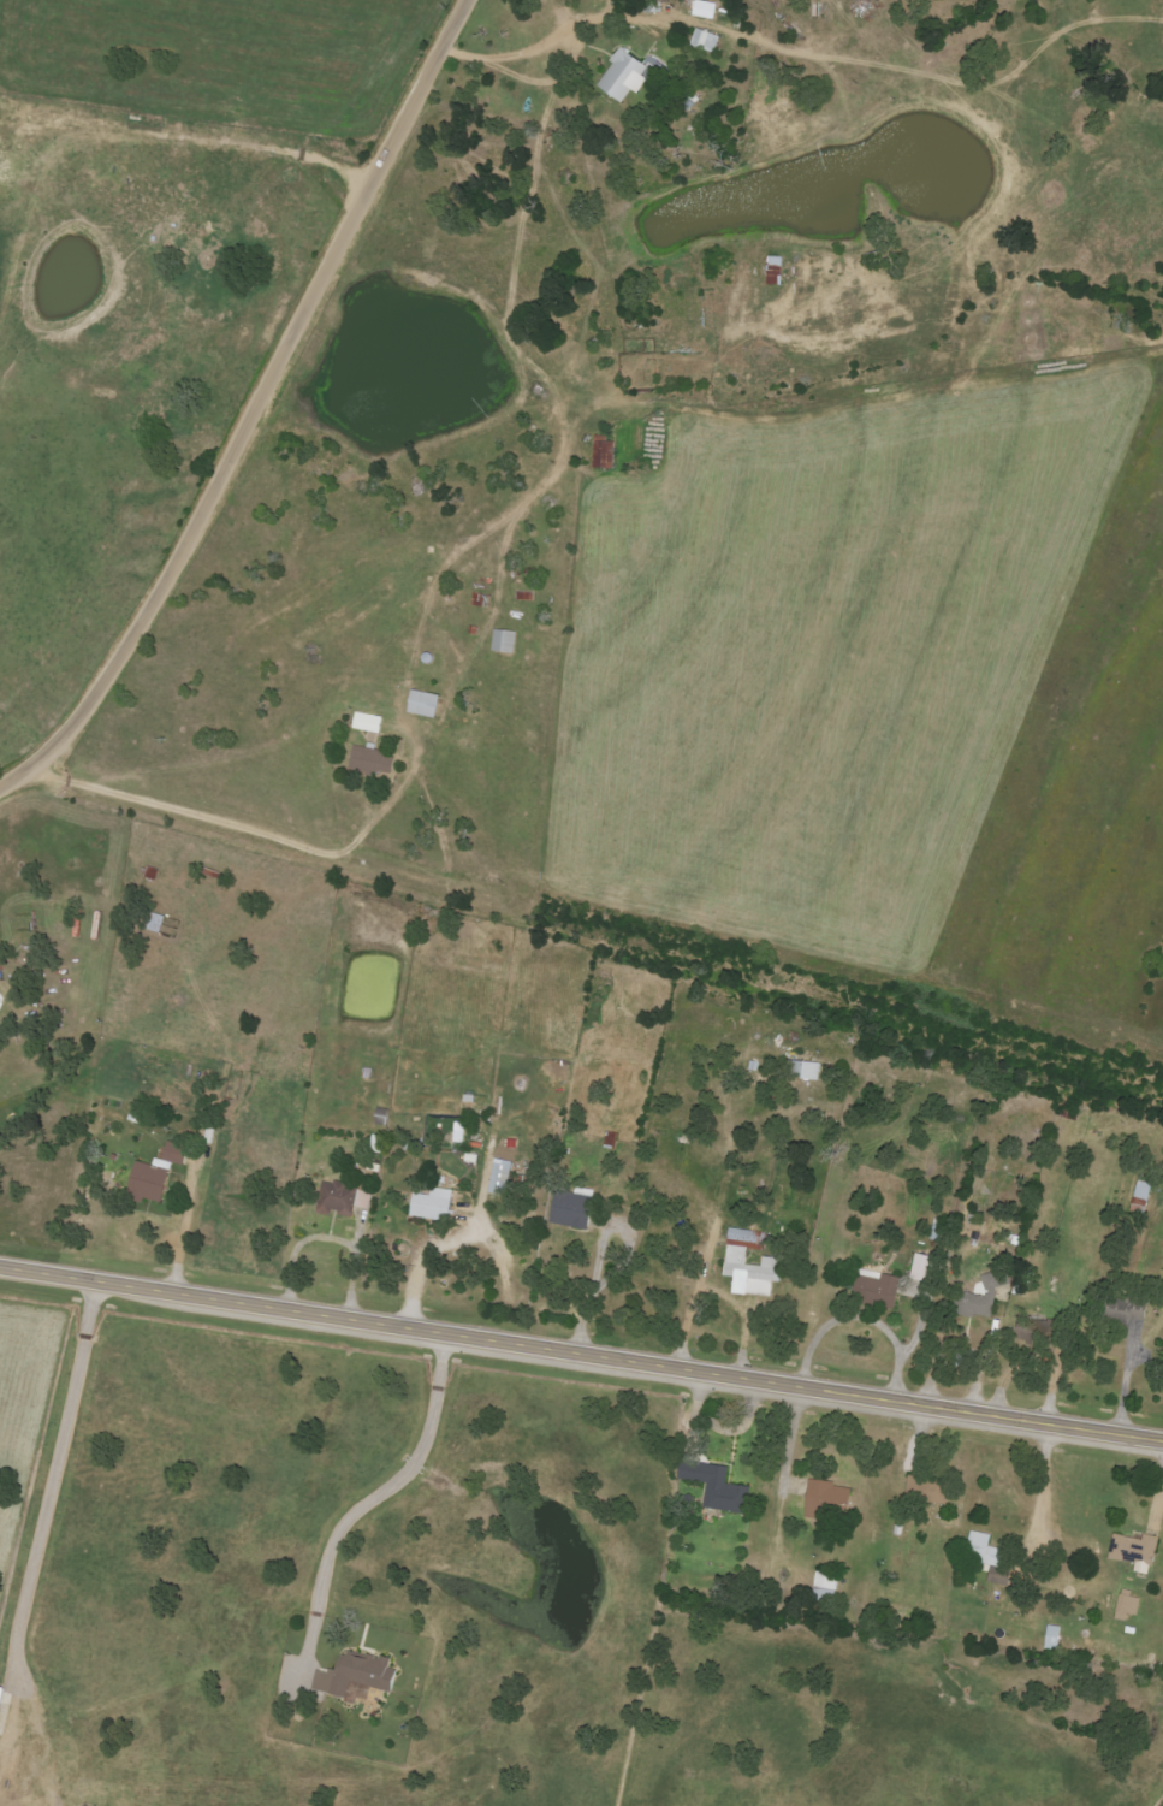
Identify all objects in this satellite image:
building: (704, 10)
building: (704, 41)
building: (622, 77)
building: (773, 271)
road: (251, 409)
building: (603, 455)
building: (503, 641)
building: (421, 703)
building: (366, 722)
building: (370, 762)
road: (263, 834)
building: (153, 922)
building: (802, 1070)
building: (154, 1174)
building: (499, 1177)
building: (1141, 1191)
building: (340, 1198)
building: (431, 1204)
building: (569, 1209)
building: (735, 1261)
building: (921, 1267)
building: (874, 1287)
building: (977, 1299)
road: (581, 1355)
road: (400, 1479)
building: (713, 1485)
building: (928, 1490)
building: (826, 1500)
building: (981, 1550)
building: (1134, 1551)
building: (824, 1585)
building: (1127, 1605)
building: (1051, 1638)
building: (354, 1674)
building: (356, 1692)
building: (0, 1693)

